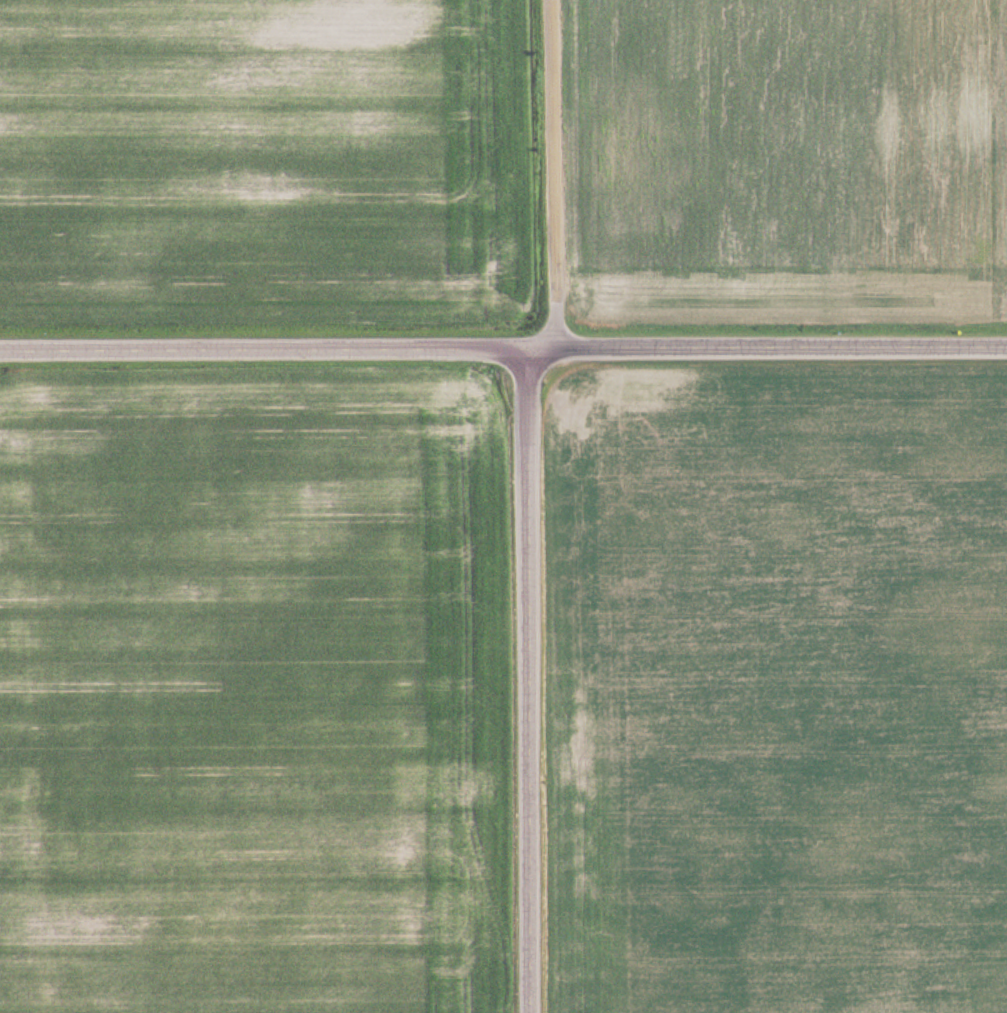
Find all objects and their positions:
road: (552, 174)
road: (503, 349)
road: (526, 681)

